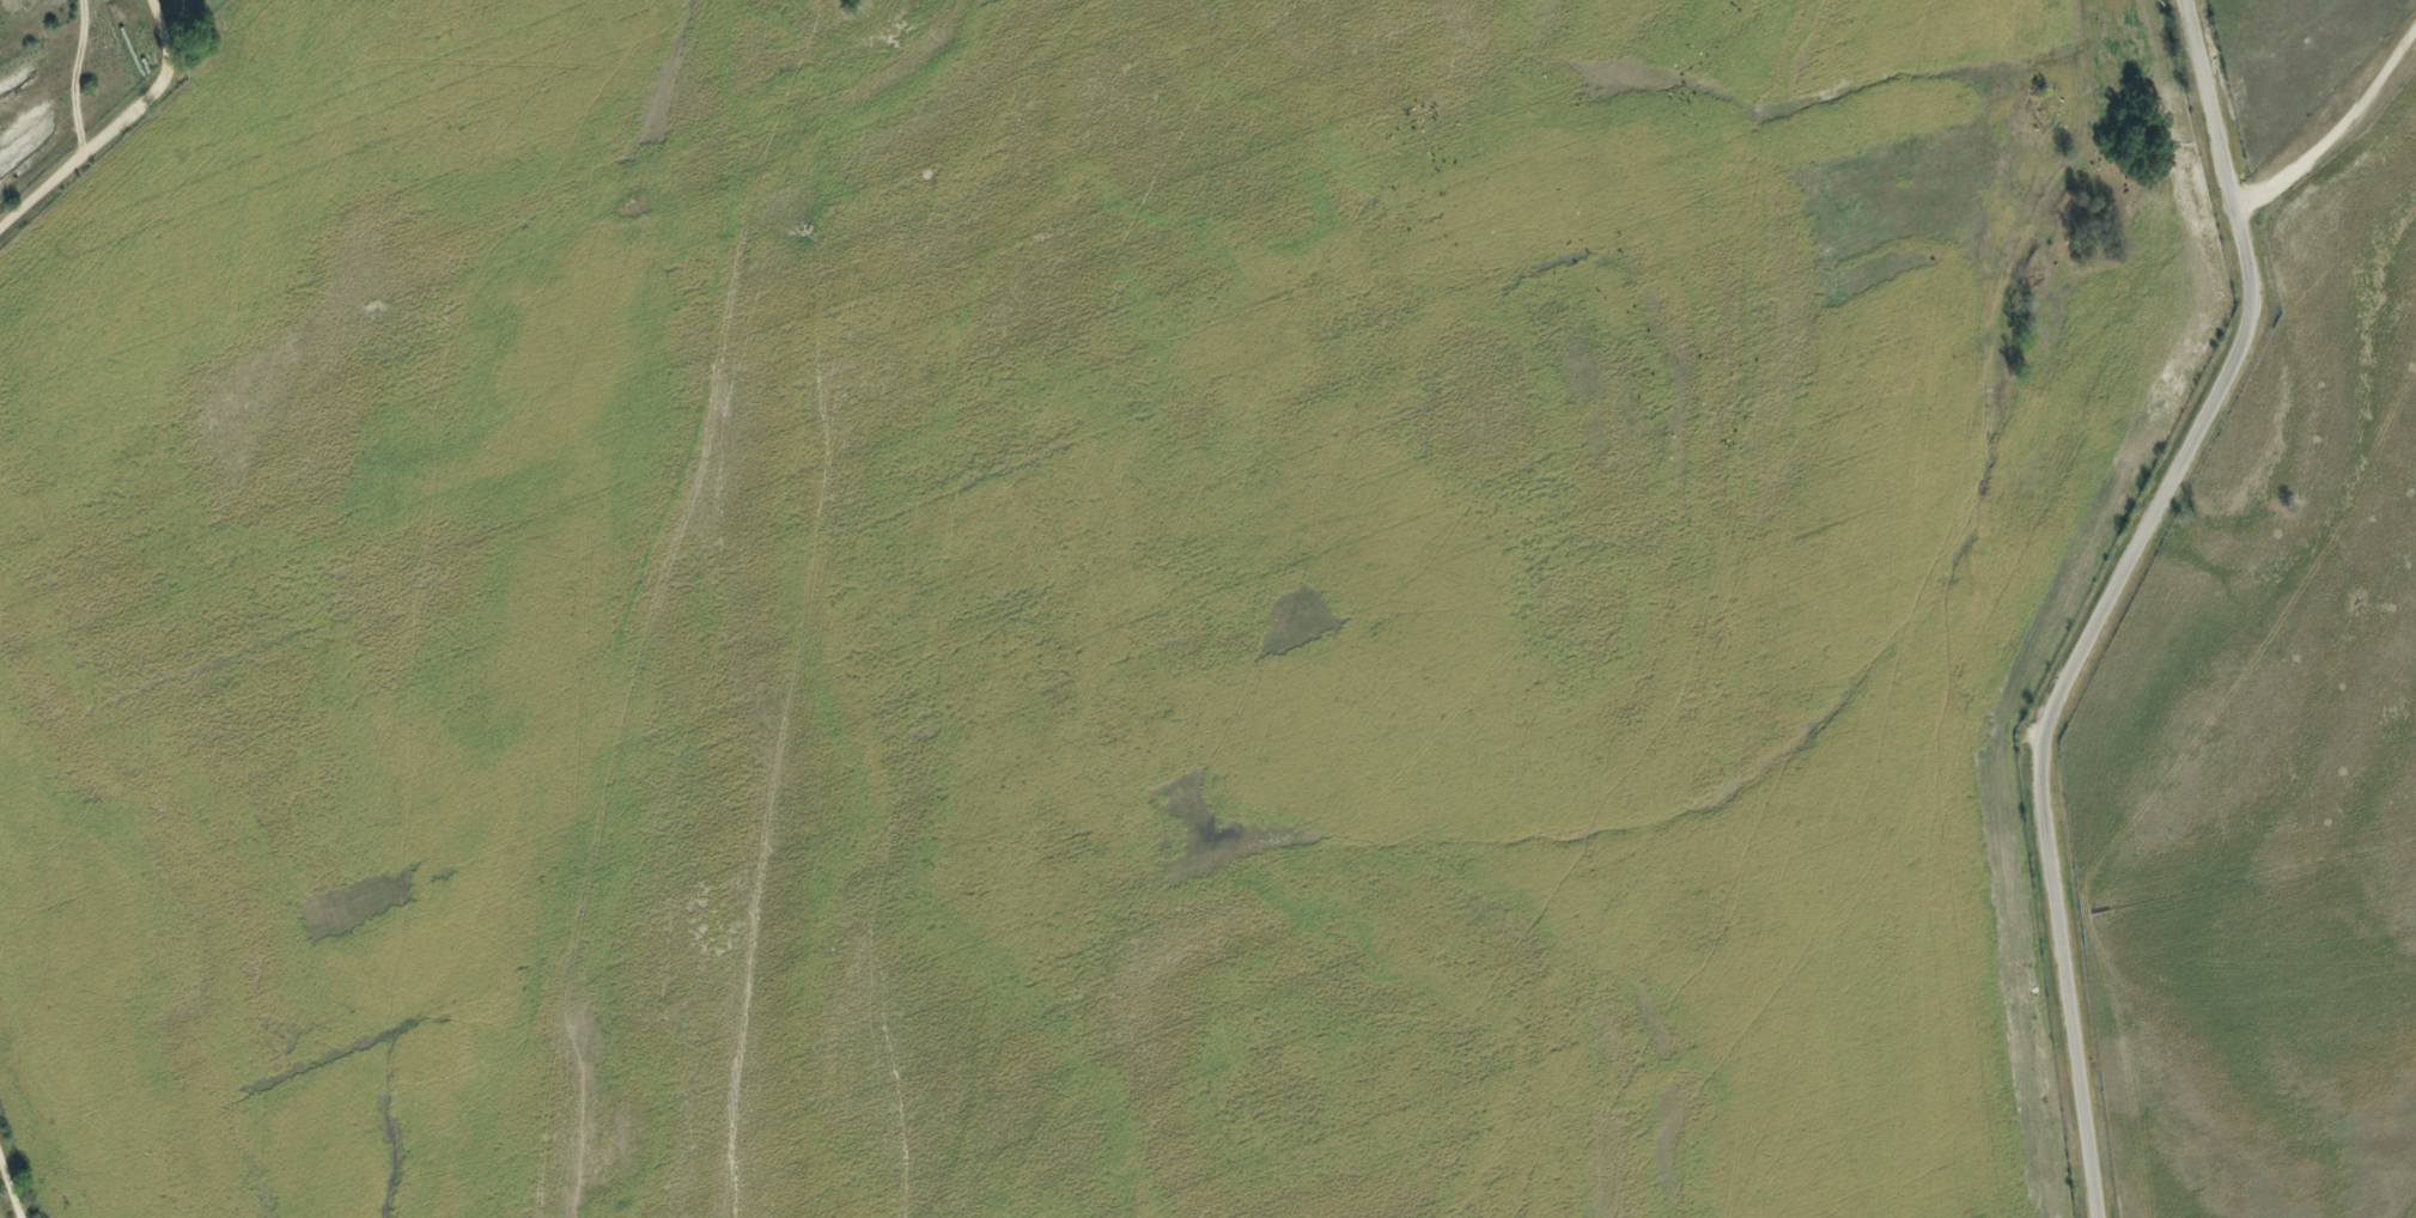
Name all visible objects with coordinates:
road: (74, 74)
road: (110, 123)
road: (2338, 129)
road: (2111, 598)
road: (10, 1187)

